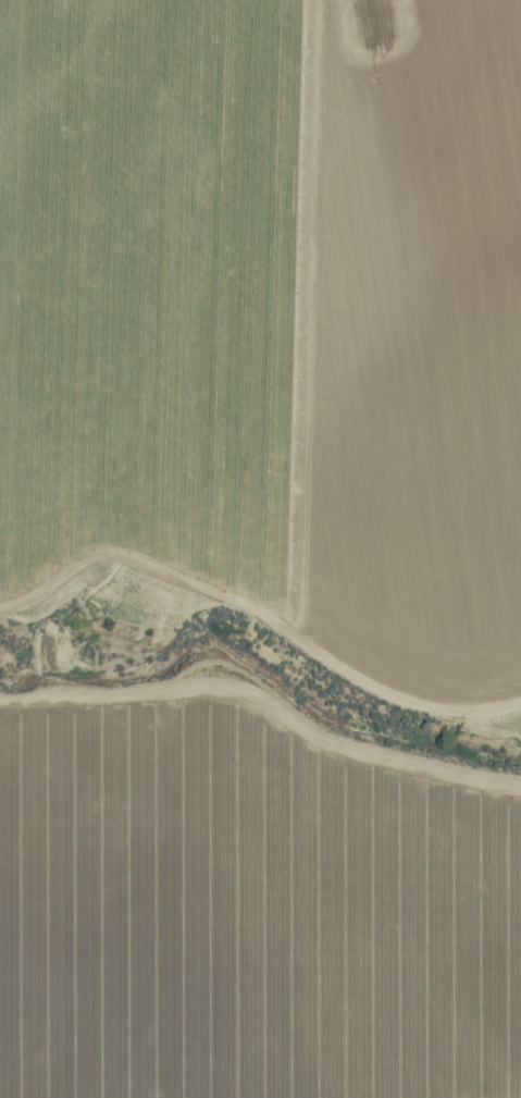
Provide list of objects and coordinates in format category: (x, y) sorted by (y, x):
crop: (272, 314)
crop: (247, 914)

